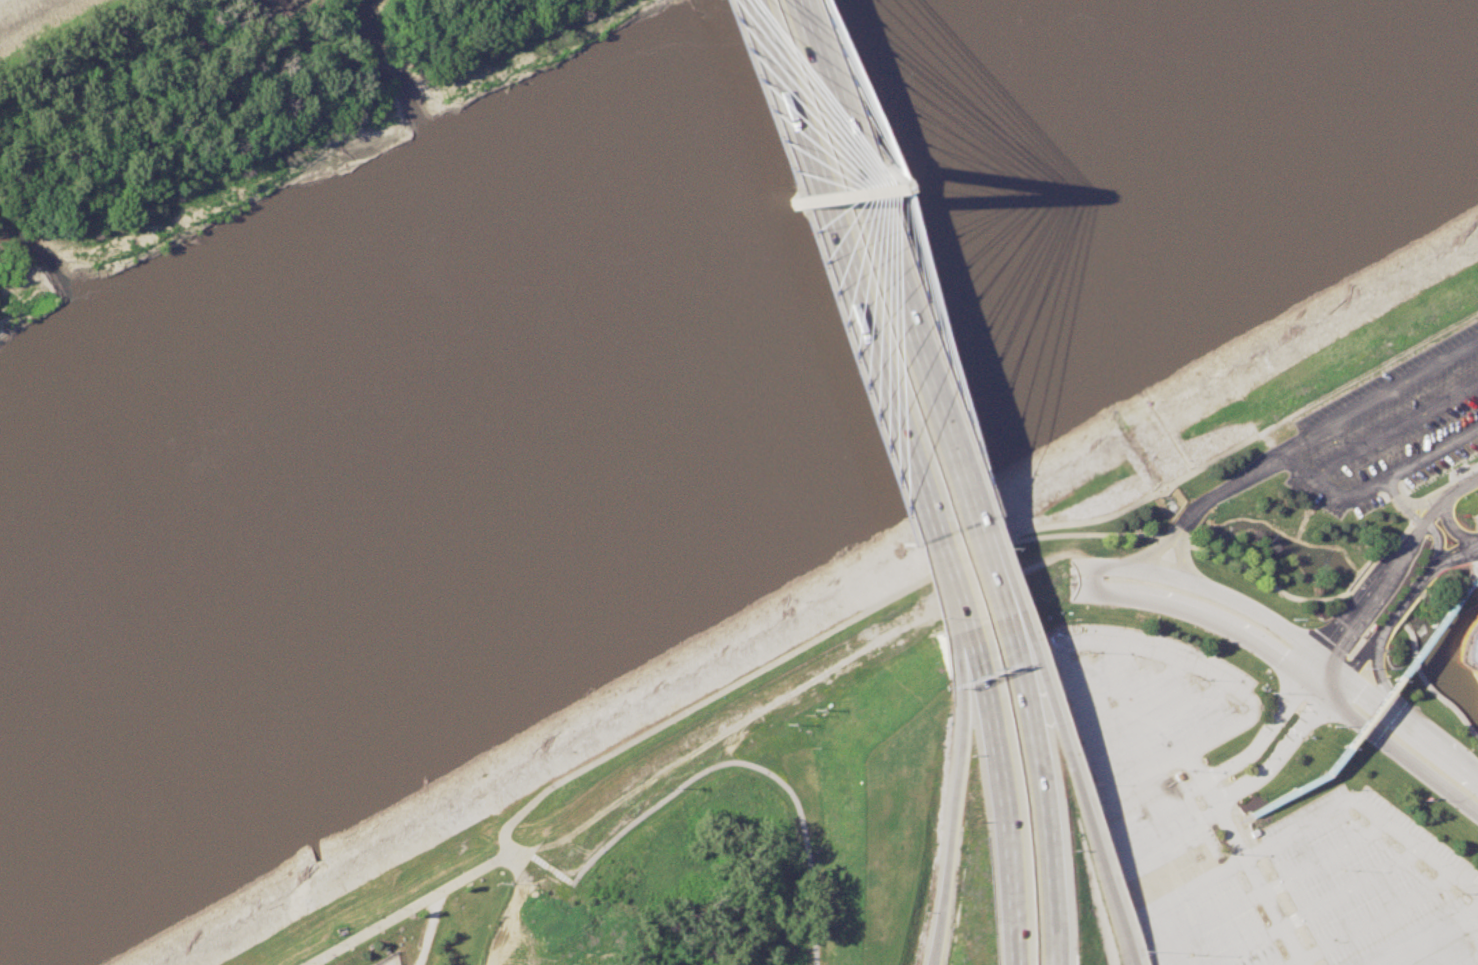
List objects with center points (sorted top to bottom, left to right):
road: (888, 307)
road: (846, 313)
road: (1367, 370)
river: (626, 385)
road: (1377, 396)
parking lot: (1387, 428)
road: (1392, 429)
road: (1303, 473)
road: (1462, 484)
road: (1134, 501)
road: (1400, 502)
road: (1425, 502)
road: (1434, 507)
road: (1447, 526)
road: (1435, 542)
road: (1454, 555)
road: (1230, 560)
road: (1087, 579)
road: (1228, 595)
road: (1364, 600)
road: (1201, 615)
road: (1389, 622)
road: (1001, 634)
building: (1470, 648)
road: (1382, 695)
road: (1412, 726)
road: (636, 738)
road: (1390, 742)
road: (714, 766)
road: (996, 794)
road: (1084, 803)
road: (1039, 808)
road: (954, 816)
parking lot: (1251, 818)
street lamp: (427, 889)
street lamp: (395, 907)
park: (416, 920)
street lamp: (363, 926)
street lamp: (330, 944)
street lamp: (299, 961)
building: (371, 964)

